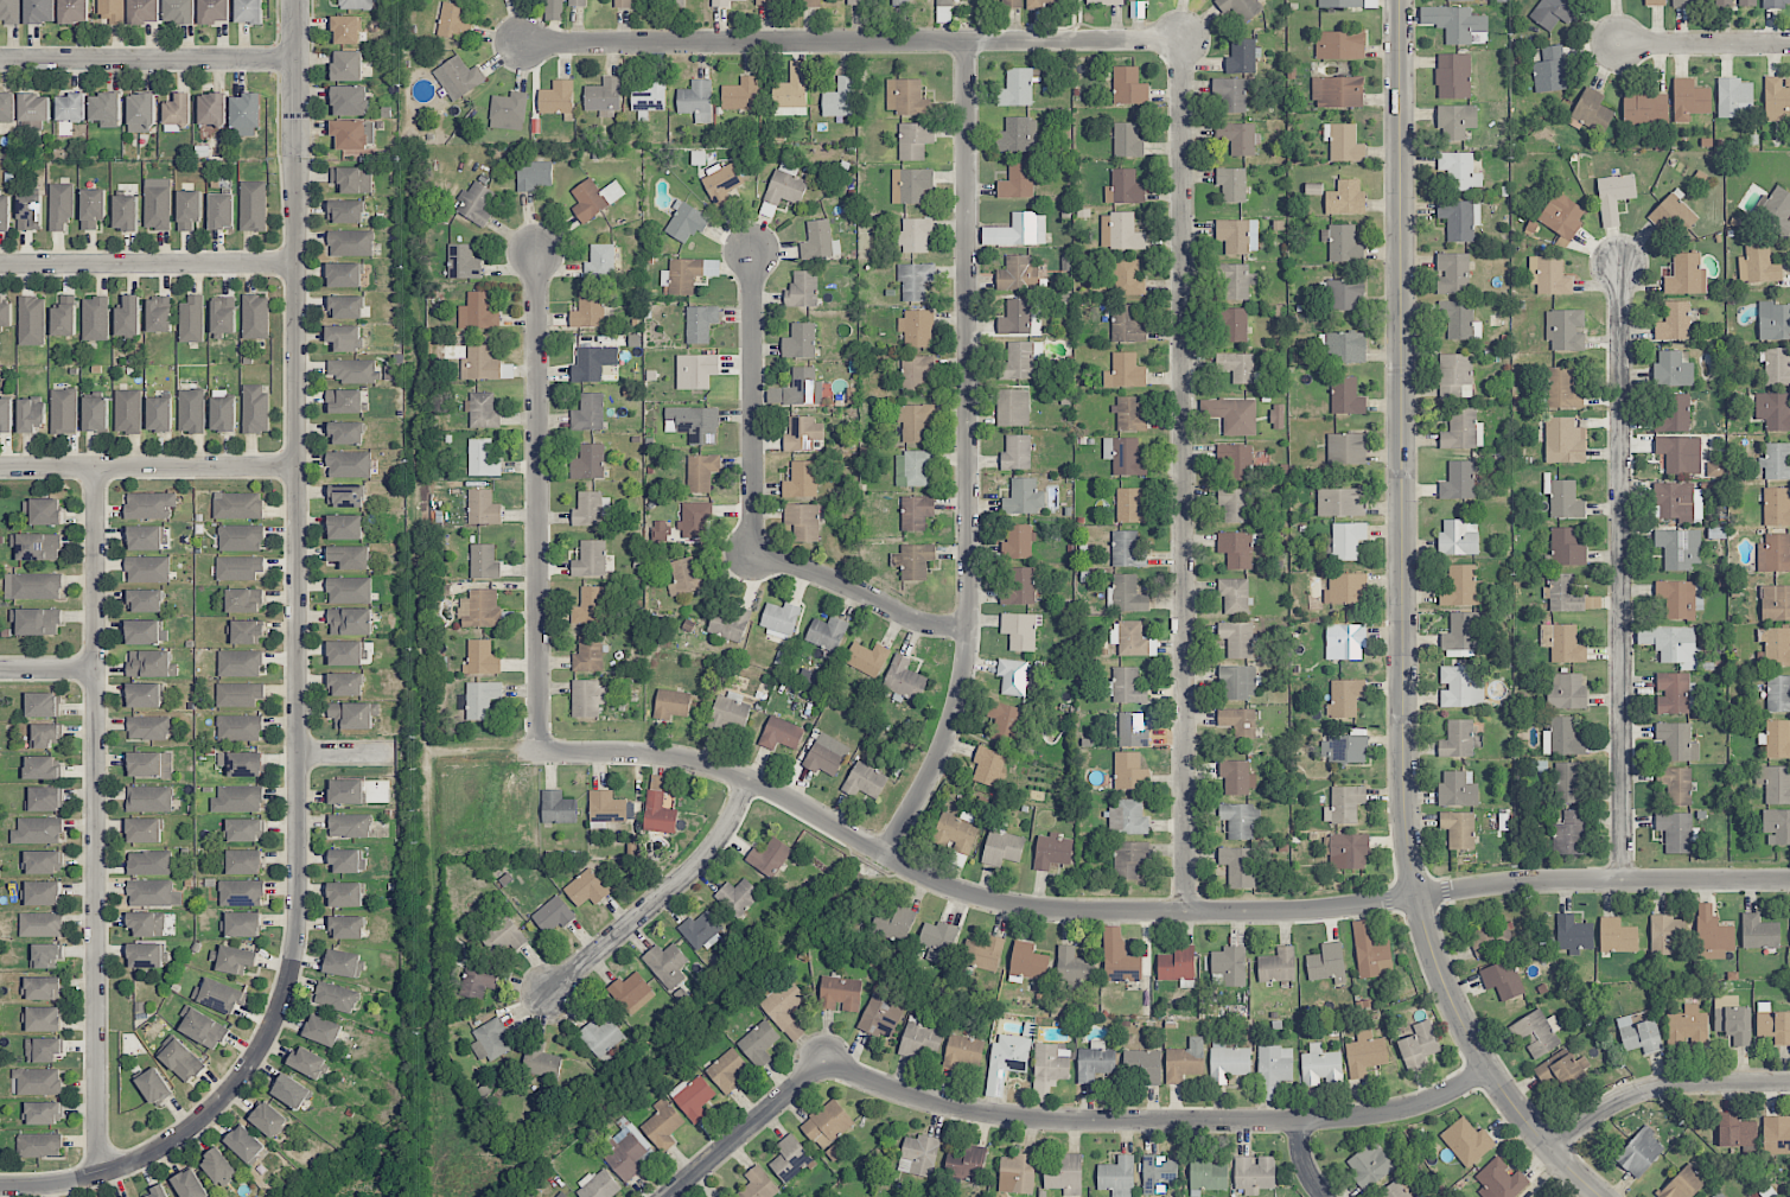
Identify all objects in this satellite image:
building: (924, 0)
building: (1138, 0)
building: (1459, 0)
building: (675, 1)
building: (773, 1)
building: (856, 1)
building: (1104, 1)
building: (577, 2)
building: (722, 2)
building: (810, 2)
building: (899, 2)
building: (944, 2)
building: (1044, 2)
building: (1655, 2)
building: (1689, 2)
building: (1735, 2)
building: (1776, 2)
building: (356, 4)
building: (623, 4)
building: (1012, 4)
building: (1339, 4)
building: (1240, 8)
building: (553, 9)
building: (9, 11)
building: (39, 11)
building: (144, 11)
building: (179, 11)
building: (214, 11)
building: (248, 11)
building: (74, 12)
building: (110, 12)
building: (1553, 12)
building: (454, 21)
building: (1454, 23)
building: (345, 30)
road: (848, 42)
road: (1703, 42)
building: (1339, 45)
building: (1242, 57)
road: (148, 59)
building: (346, 65)
building: (1550, 70)
street lamp: (1620, 75)
building: (1453, 76)
building: (458, 77)
building: (1128, 85)
building: (1018, 87)
building: (791, 91)
building: (1336, 91)
building: (1231, 94)
building: (604, 95)
building: (740, 95)
building: (556, 97)
building: (648, 97)
building: (906, 97)
building: (1734, 97)
building: (840, 98)
building: (1777, 98)
building: (696, 100)
building: (1689, 100)
building: (350, 101)
building: (7, 107)
building: (34, 107)
building: (70, 108)
building: (212, 108)
building: (106, 109)
building: (1645, 109)
building: (508, 110)
building: (1590, 110)
building: (141, 112)
building: (177, 112)
building: (246, 115)
building: (1457, 121)
building: (31, 126)
building: (352, 134)
building: (1018, 135)
building: (1238, 138)
building: (915, 140)
building: (1127, 140)
building: (1344, 142)
building: (1459, 171)
building: (533, 174)
building: (352, 179)
building: (1019, 179)
building: (722, 184)
building: (1231, 184)
building: (785, 185)
building: (911, 185)
building: (1125, 187)
building: (1613, 196)
building: (594, 198)
building: (1345, 198)
street lamp: (1418, 199)
building: (157, 203)
building: (476, 203)
building: (60, 205)
building: (253, 205)
building: (93, 208)
building: (189, 209)
building: (30, 211)
building: (222, 211)
building: (345, 211)
building: (5, 212)
building: (126, 212)
building: (1776, 212)
building: (1673, 215)
building: (1562, 217)
building: (1459, 218)
building: (687, 222)
building: (1018, 230)
building: (1121, 231)
street lamp: (1603, 234)
building: (915, 235)
building: (1237, 235)
building: (820, 241)
building: (1339, 242)
building: (350, 243)
building: (464, 262)
building: (600, 262)
road: (148, 265)
building: (1758, 266)
building: (1452, 273)
building: (344, 274)
building: (1018, 274)
building: (682, 275)
building: (1549, 275)
building: (1686, 275)
building: (1128, 278)
building: (915, 280)
building: (1234, 281)
building: (803, 289)
building: (1344, 294)
building: (345, 306)
building: (588, 310)
building: (478, 312)
building: (5, 313)
building: (159, 314)
building: (223, 314)
building: (64, 317)
building: (128, 317)
building: (255, 317)
building: (1015, 317)
building: (95, 318)
building: (31, 320)
building: (192, 320)
building: (1460, 320)
building: (1775, 320)
building: (700, 323)
building: (1673, 323)
building: (1127, 324)
building: (1235, 324)
building: (917, 327)
building: (1566, 330)
building: (344, 337)
building: (800, 340)
building: (1345, 348)
building: (1018, 361)
building: (478, 363)
building: (593, 363)
building: (1236, 367)
building: (1777, 367)
building: (1673, 369)
building: (355, 370)
building: (699, 370)
building: (1125, 371)
building: (390, 373)
building: (916, 373)
building: (1454, 376)
building: (803, 387)
building: (1561, 388)
building: (1346, 396)
building: (344, 401)
building: (1013, 407)
building: (255, 408)
building: (64, 410)
building: (128, 410)
building: (191, 410)
building: (482, 410)
building: (1773, 410)
building: (223, 412)
building: (588, 413)
building: (1673, 413)
building: (31, 414)
building: (96, 414)
building: (159, 414)
building: (1129, 414)
building: (6, 415)
building: (1232, 415)
building: (1278, 416)
building: (915, 421)
building: (694, 424)
building: (1463, 429)
building: (345, 433)
building: (801, 433)
building: (1563, 440)
building: (1346, 448)
building: (1017, 452)
building: (1680, 453)
building: (1125, 456)
road: (969, 457)
building: (482, 458)
building: (588, 461)
building: (1235, 461)
building: (1776, 461)
building: (349, 464)
road: (148, 467)
building: (913, 467)
building: (702, 471)
road: (1184, 476)
building: (801, 480)
building: (1458, 480)
building: (346, 495)
building: (1023, 497)
building: (1565, 499)
street lamp: (1420, 501)
road: (537, 502)
building: (1340, 502)
building: (1677, 502)
building: (1234, 504)
building: (149, 505)
building: (237, 505)
building: (1129, 505)
building: (1777, 507)
building: (483, 508)
building: (591, 509)
building: (44, 511)
building: (916, 511)
road: (752, 516)
building: (695, 518)
building: (802, 521)
building: (345, 527)
building: (660, 528)
building: (148, 537)
building: (241, 537)
building: (1457, 539)
building: (1348, 540)
building: (1018, 542)
building: (36, 546)
building: (1567, 547)
building: (1678, 548)
building: (1127, 549)
building: (1235, 549)
building: (1775, 553)
building: (349, 556)
building: (590, 559)
building: (484, 561)
building: (913, 561)
building: (238, 567)
building: (147, 569)
road: (1619, 571)
building: (687, 577)
building: (33, 586)
building: (1019, 587)
building: (1461, 587)
building: (1346, 588)
building: (349, 590)
building: (1562, 593)
building: (1126, 594)
road: (1401, 594)
building: (1234, 596)
building: (1678, 599)
building: (145, 600)
building: (243, 600)
building: (1776, 603)
building: (591, 606)
building: (479, 609)
building: (37, 622)
building: (350, 622)
building: (728, 622)
building: (779, 622)
building: (144, 632)
building: (247, 632)
building: (1460, 632)
building: (827, 633)
building: (1237, 638)
building: (1132, 639)
building: (1344, 642)
building: (1671, 643)
building: (1566, 644)
building: (1777, 647)
building: (344, 652)
building: (588, 654)
building: (482, 658)
building: (866, 658)
building: (151, 663)
building: (240, 663)
road: (47, 669)
building: (1012, 676)
building: (904, 679)
road: (297, 682)
building: (1238, 682)
building: (344, 683)
building: (1460, 686)
building: (1127, 687)
building: (1566, 692)
building: (1671, 693)
building: (1778, 693)
building: (144, 694)
building: (238, 694)
building: (587, 698)
building: (1344, 698)
building: (482, 699)
building: (673, 703)
building: (42, 705)
building: (728, 712)
building: (353, 714)
building: (1004, 722)
building: (1237, 722)
building: (147, 727)
building: (240, 727)
building: (1132, 730)
building: (781, 733)
building: (45, 734)
building: (1562, 738)
building: (1457, 739)
building: (1676, 741)
building: (1349, 749)
road: (346, 755)
building: (826, 755)
building: (241, 763)
building: (151, 764)
building: (989, 766)
building: (40, 768)
building: (1129, 771)
building: (1236, 777)
building: (865, 781)
building: (1567, 783)
building: (1775, 783)
building: (1675, 784)
building: (1458, 789)
building: (346, 791)
building: (44, 798)
building: (149, 798)
building: (237, 798)
building: (1344, 804)
building: (658, 807)
building: (558, 808)
building: (605, 808)
building: (1128, 817)
road: (96, 820)
building: (1241, 820)
building: (350, 826)
building: (1777, 826)
building: (1458, 828)
building: (246, 829)
building: (38, 830)
building: (144, 830)
building: (1676, 832)
building: (956, 833)
building: (1571, 833)
building: (1002, 847)
building: (1052, 851)
building: (1348, 851)
building: (767, 857)
building: (1129, 859)
building: (346, 860)
building: (243, 861)
building: (43, 862)
building: (149, 862)
building: (1238, 866)
street lamp: (1641, 866)
street lamp: (1389, 879)
building: (586, 889)
building: (241, 892)
building: (42, 893)
building: (153, 893)
building: (345, 894)
building: (737, 897)
road: (658, 899)
road: (1148, 912)
building: (553, 915)
building: (147, 923)
building: (241, 923)
building: (893, 923)
building: (40, 924)
building: (346, 927)
building: (701, 930)
building: (1759, 932)
building: (1573, 935)
building: (1665, 935)
building: (1712, 935)
building: (1489, 936)
building: (1617, 936)
building: (503, 937)
building: (938, 941)
building: (1371, 951)
building: (982, 954)
building: (46, 955)
building: (145, 955)
building: (1119, 957)
building: (232, 959)
building: (1027, 961)
building: (343, 963)
building: (1327, 963)
building: (665, 964)
building: (1230, 964)
building: (1177, 966)
building: (1278, 966)
building: (1074, 967)
building: (1503, 979)
building: (478, 980)
building: (43, 988)
building: (629, 991)
building: (840, 994)
building: (219, 995)
building: (336, 997)
building: (785, 1008)
building: (881, 1017)
building: (44, 1019)
building: (1732, 1019)
building: (1773, 1024)
building: (1687, 1026)
building: (202, 1027)
building: (323, 1030)
building: (1537, 1033)
building: (1638, 1033)
building: (601, 1036)
building: (919, 1038)
building: (490, 1040)
building: (758, 1043)
building: (1419, 1045)
building: (43, 1050)
building: (963, 1051)
building: (1009, 1052)
building: (1365, 1053)
building: (180, 1058)
building: (1185, 1061)
building: (307, 1062)
building: (542, 1062)
building: (1051, 1062)
building: (1095, 1062)
building: (1228, 1062)
building: (1142, 1065)
building: (1274, 1067)
building: (1320, 1067)
building: (727, 1070)
building: (1562, 1071)
building: (36, 1082)
road: (1660, 1083)
building: (154, 1085)
building: (291, 1091)
street lamp: (1479, 1093)
building: (693, 1097)
building: (43, 1112)
building: (268, 1119)
road: (1158, 1120)
building: (827, 1123)
building: (662, 1125)
road: (746, 1129)
building: (1737, 1131)
building: (1776, 1135)
building: (1466, 1141)
building: (244, 1144)
building: (39, 1145)
street lamp: (1580, 1147)
building: (1639, 1152)
building: (623, 1155)
building: (918, 1155)
road: (1305, 1161)
building: (966, 1163)
building: (1370, 1165)
building: (218, 1167)
building: (1017, 1173)
building: (1158, 1173)
building: (1254, 1173)
road: (1575, 1173)
building: (1065, 1174)
building: (1206, 1174)
building: (1117, 1177)
building: (1501, 1180)
building: (1683, 1183)
building: (189, 1184)
building: (758, 1184)
building: (599, 1185)
building: (1394, 1190)
building: (157, 1192)
building: (561, 1195)
building: (1719, 1195)
building: (721, 1196)

